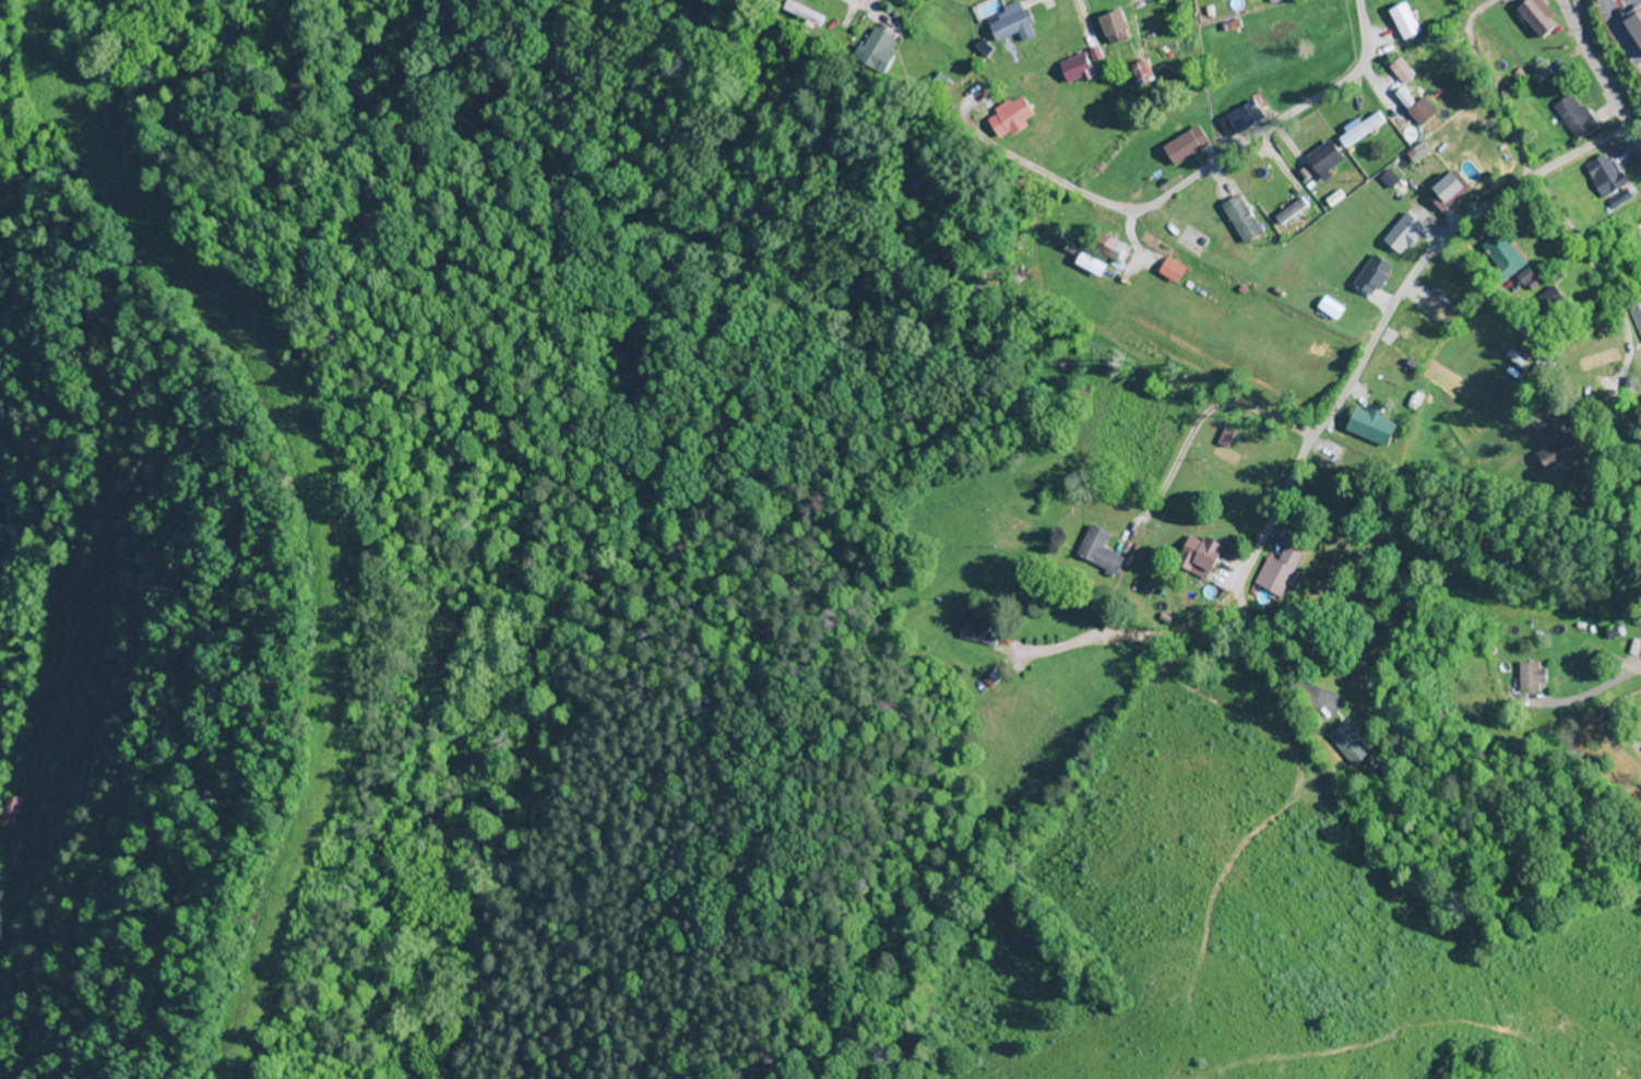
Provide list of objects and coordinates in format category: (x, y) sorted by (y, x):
road: (879, 4)
building: (801, 14)
road: (1357, 14)
building: (1534, 16)
building: (1009, 24)
building: (1109, 25)
road: (892, 31)
building: (1633, 33)
building: (875, 50)
building: (1072, 69)
building: (1399, 71)
building: (1138, 72)
road: (1594, 75)
building: (1413, 107)
building: (1238, 118)
building: (1574, 118)
building: (1009, 119)
building: (1358, 130)
road: (1241, 144)
building: (1184, 147)
building: (1322, 159)
building: (1609, 185)
building: (1442, 192)
building: (1288, 211)
building: (1239, 220)
building: (1401, 234)
building: (1108, 248)
building: (1497, 256)
building: (1370, 276)
building: (1430, 309)
road: (1387, 313)
building: (1637, 320)
building: (1512, 358)
building: (1367, 426)
building: (1547, 451)
building: (1095, 552)
building: (1198, 557)
building: (1277, 572)
building: (1530, 678)
building: (1348, 745)
building: (16, 808)

